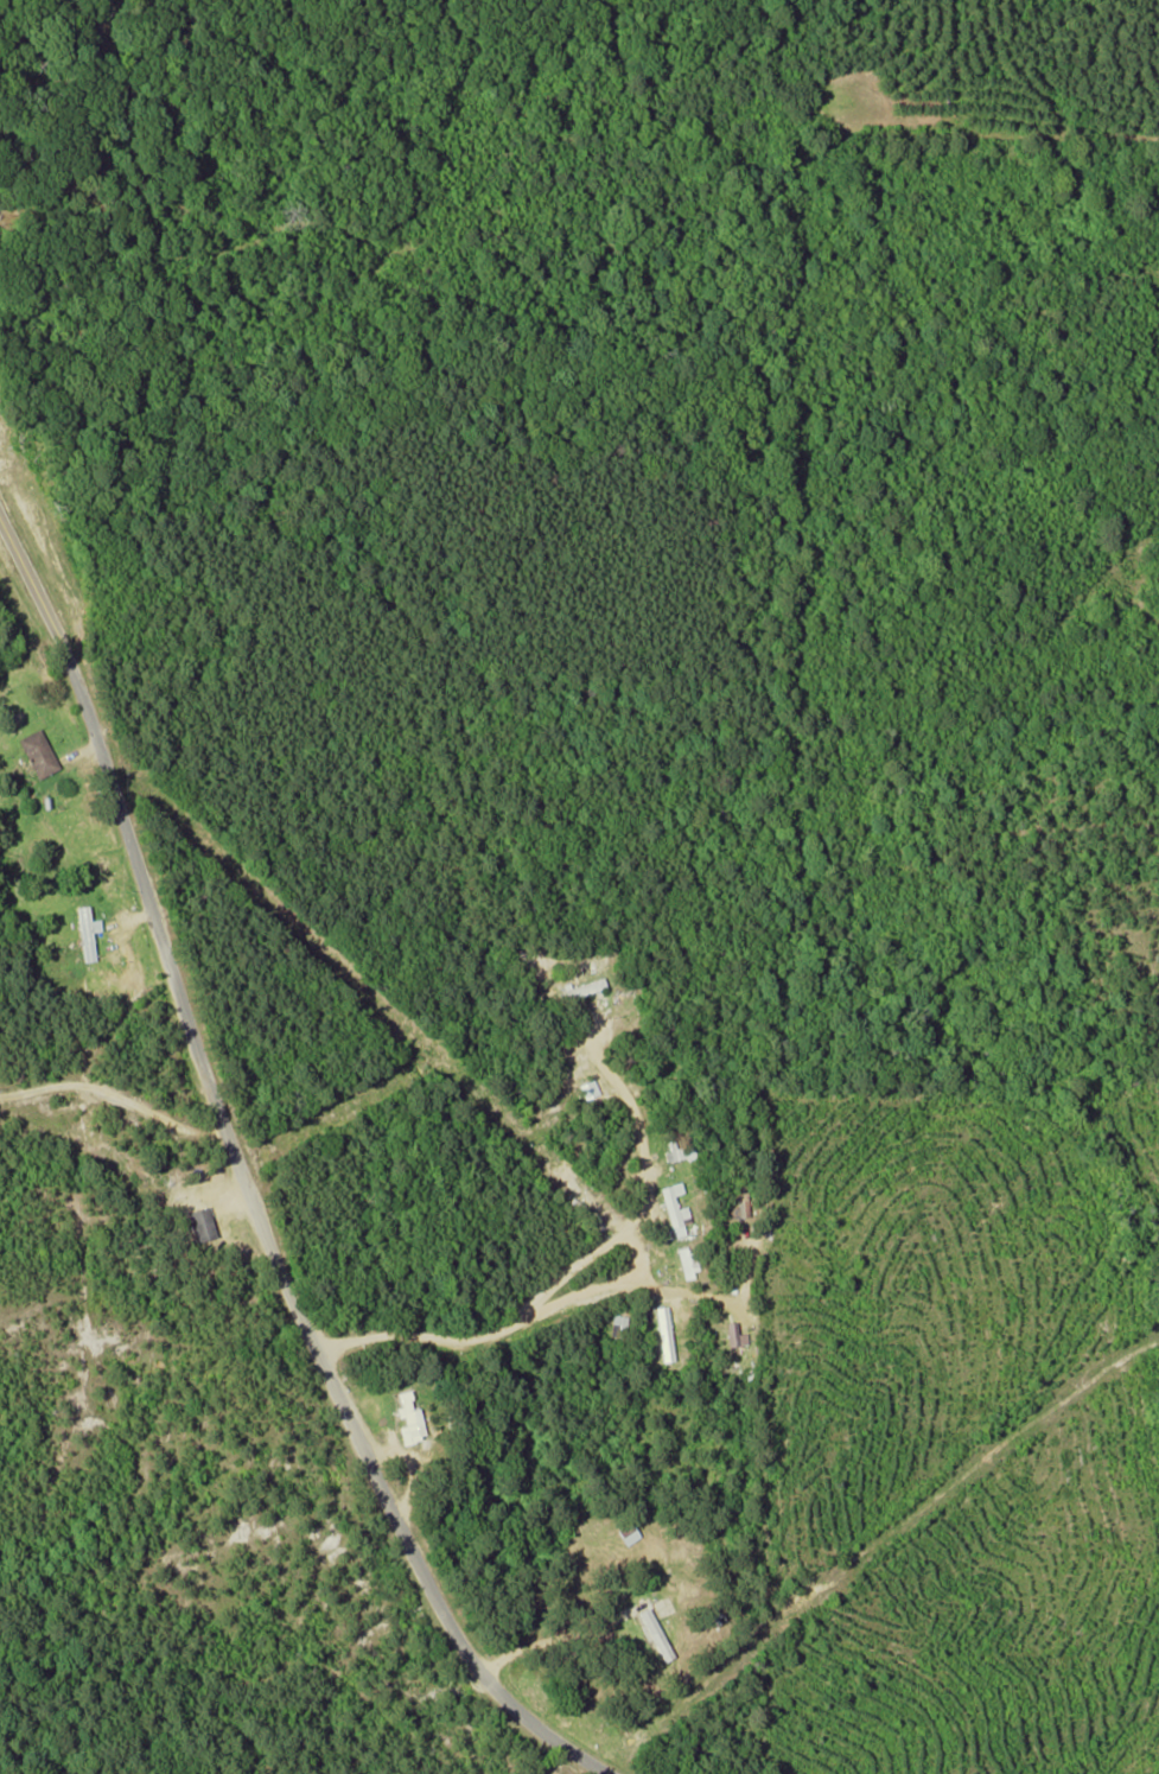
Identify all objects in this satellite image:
building: (36, 751)
building: (85, 931)
building: (580, 987)
road: (242, 1182)
building: (673, 1209)
building: (199, 1222)
building: (684, 1261)
building: (664, 1333)
building: (733, 1334)
building: (407, 1420)
building: (649, 1630)

